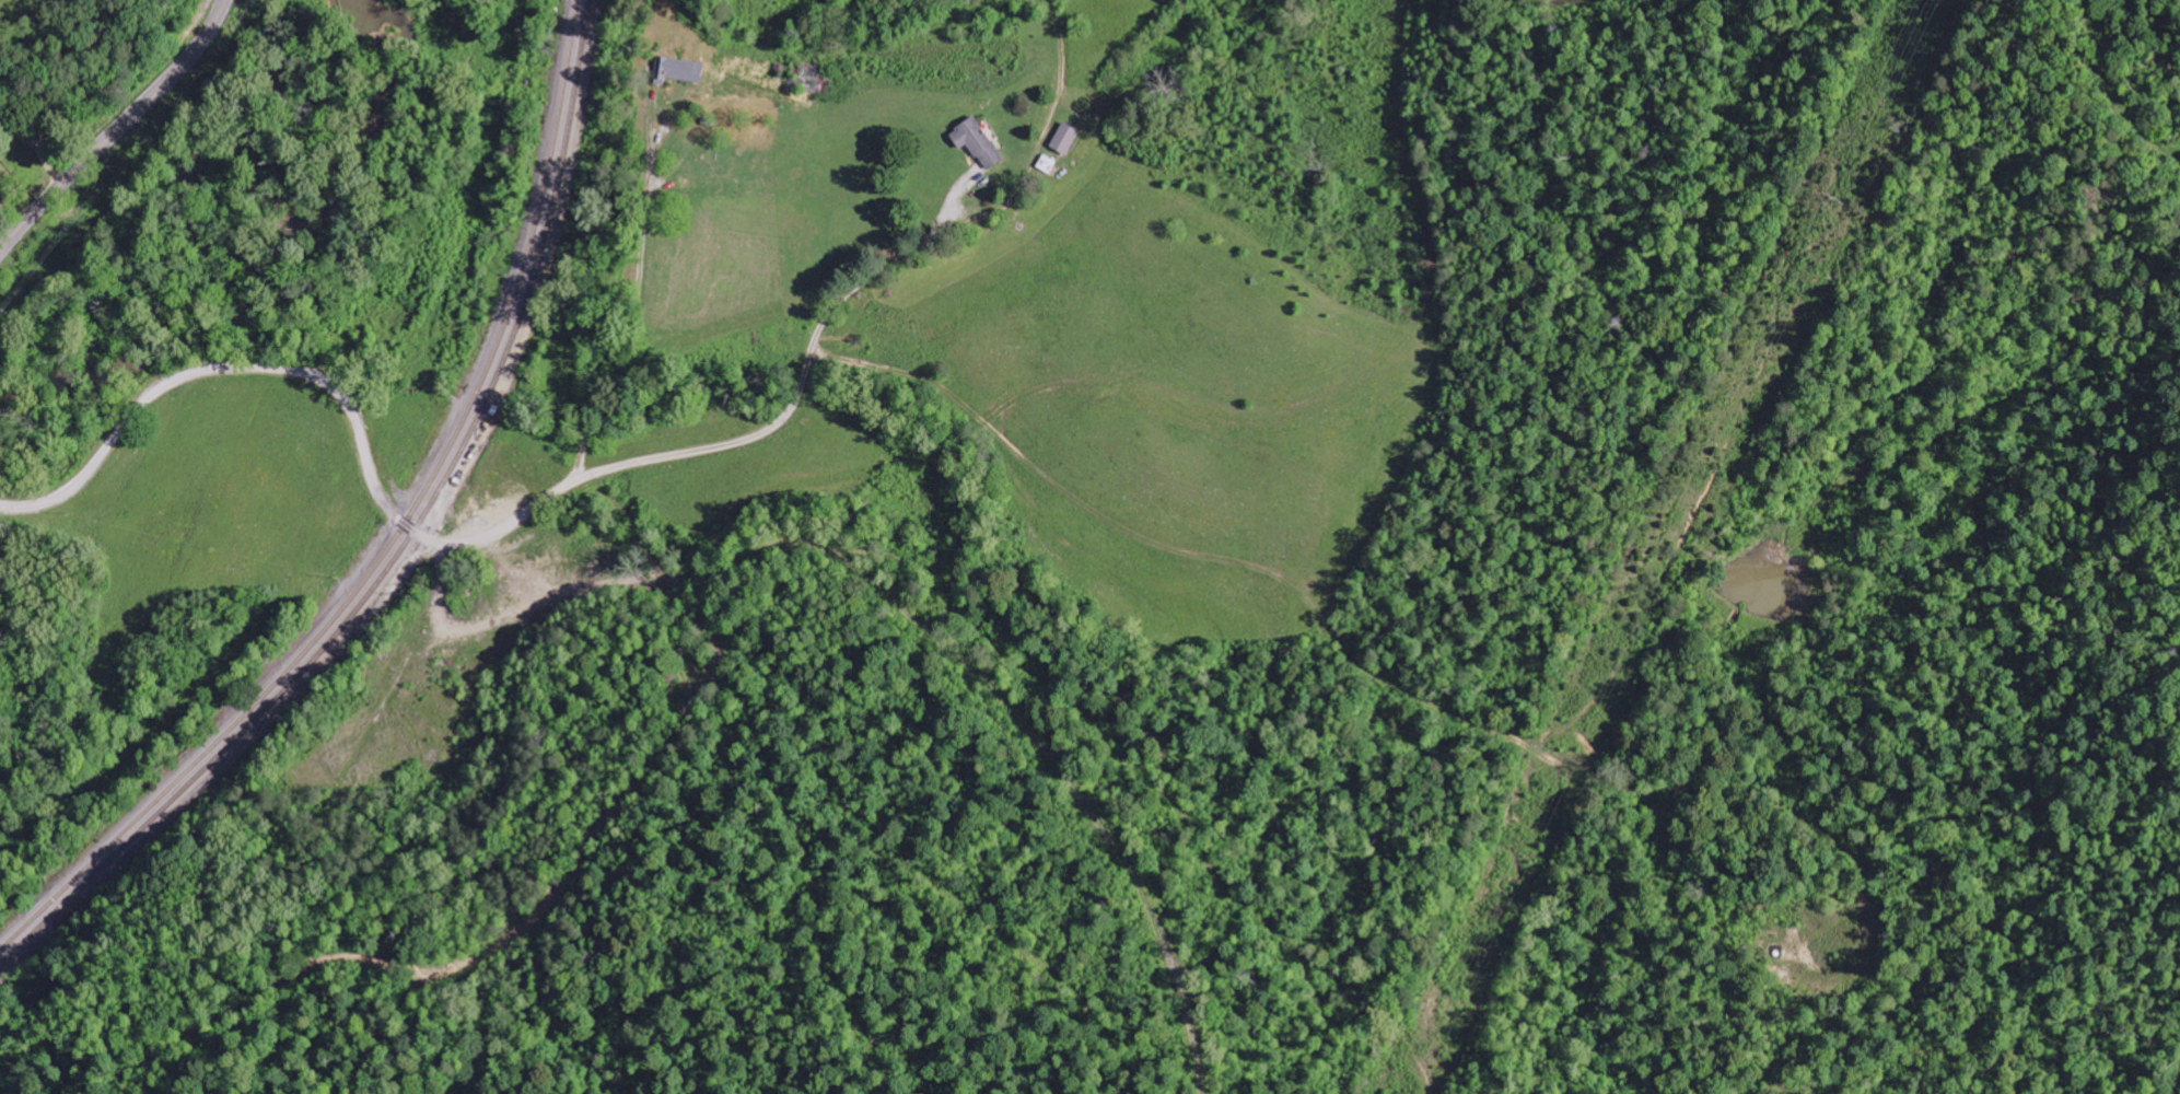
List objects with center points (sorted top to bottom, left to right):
building: (677, 71)
road: (116, 129)
building: (1063, 139)
building: (976, 143)
building: (0, 187)
road: (388, 509)
railway: (398, 538)

